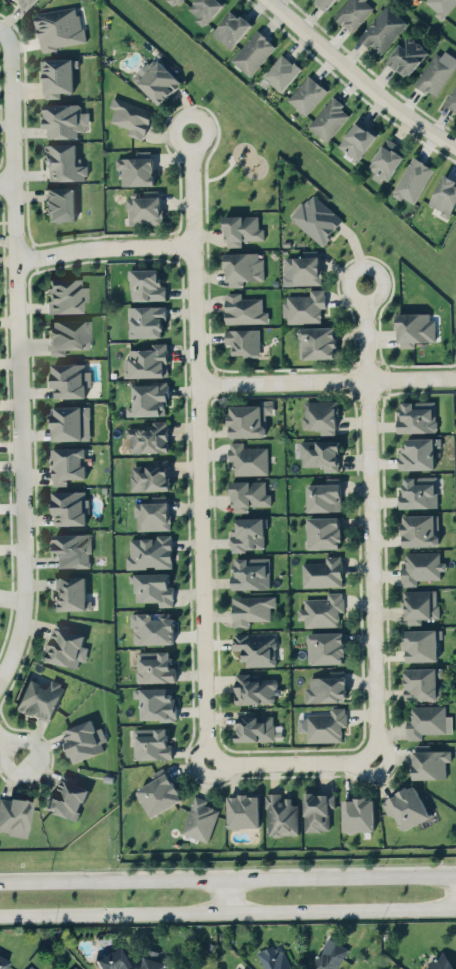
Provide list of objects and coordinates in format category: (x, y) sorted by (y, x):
building: (325, 2)
building: (24, 3)
building: (440, 6)
building: (205, 9)
building: (353, 12)
building: (59, 27)
road: (2, 29)
building: (231, 29)
building: (382, 29)
building: (455, 29)
building: (253, 52)
building: (406, 55)
building: (281, 71)
building: (437, 71)
building: (58, 76)
road: (361, 76)
building: (157, 80)
building: (307, 94)
building: (451, 99)
building: (131, 116)
building: (329, 118)
building: (64, 120)
building: (358, 138)
building: (385, 160)
building: (63, 162)
building: (136, 168)
road: (8, 180)
building: (412, 180)
building: (444, 196)
building: (60, 204)
building: (144, 207)
building: (316, 218)
building: (241, 229)
road: (106, 246)
building: (242, 267)
building: (303, 268)
building: (146, 285)
building: (65, 295)
building: (304, 307)
building: (243, 309)
building: (145, 320)
building: (414, 328)
building: (68, 335)
building: (243, 341)
building: (317, 342)
road: (19, 356)
building: (147, 361)
building: (69, 379)
road: (326, 379)
building: (148, 399)
park: (455, 409)
building: (320, 415)
building: (417, 416)
building: (248, 419)
building: (70, 422)
building: (148, 437)
road: (200, 448)
building: (418, 453)
building: (320, 454)
building: (248, 458)
building: (67, 464)
building: (150, 476)
building: (418, 492)
building: (248, 494)
building: (324, 495)
building: (69, 507)
building: (152, 513)
road: (369, 520)
building: (420, 530)
building: (324, 532)
building: (248, 533)
building: (72, 550)
building: (149, 552)
building: (421, 566)
building: (323, 572)
building: (251, 573)
building: (152, 587)
building: (71, 593)
building: (420, 605)
building: (251, 608)
building: (322, 610)
building: (152, 627)
building: (421, 644)
building: (65, 646)
building: (325, 647)
building: (256, 649)
building: (154, 666)
building: (422, 683)
building: (326, 688)
building: (254, 689)
building: (39, 699)
building: (156, 703)
building: (428, 720)
building: (326, 725)
building: (255, 727)
building: (83, 740)
building: (151, 743)
road: (11, 744)
road: (293, 761)
building: (429, 762)
building: (159, 792)
building: (67, 796)
building: (406, 807)
building: (243, 810)
building: (317, 810)
building: (357, 814)
building: (281, 815)
building: (14, 816)
building: (200, 819)
road: (228, 877)
road: (229, 894)
road: (227, 910)
building: (329, 955)
building: (273, 959)
building: (112, 960)
building: (153, 960)
building: (3, 962)
building: (439, 962)
building: (29, 967)
building: (74, 967)
building: (240, 967)

